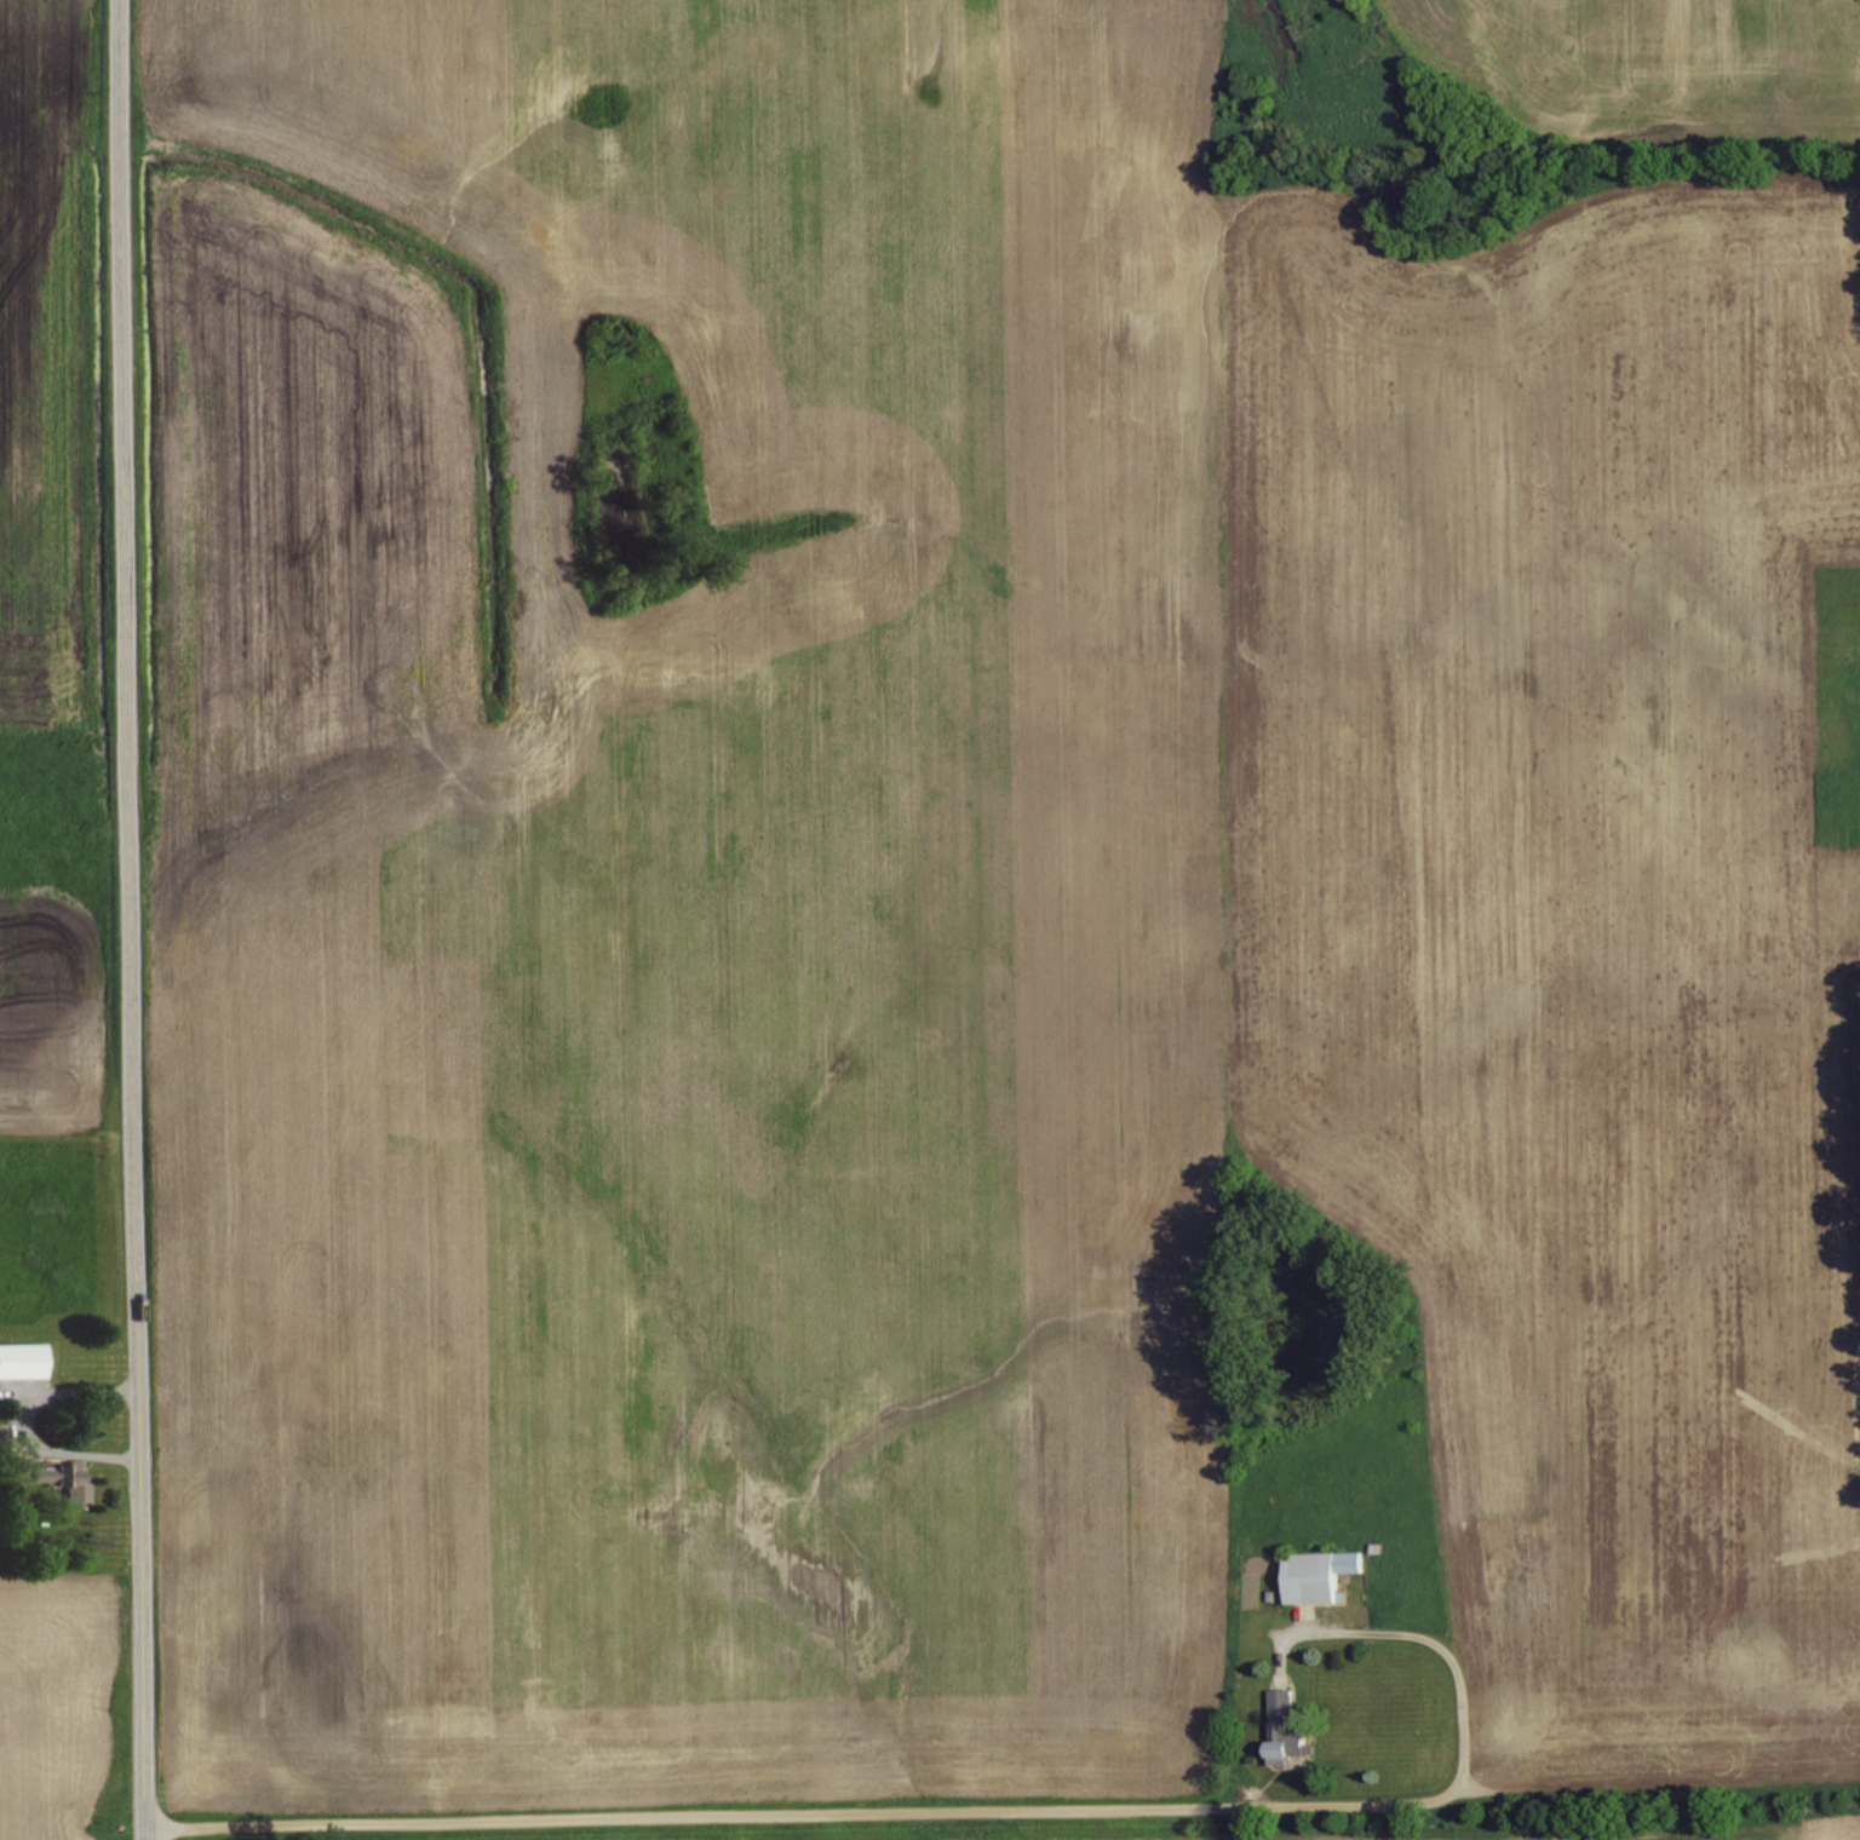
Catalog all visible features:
road: (128, 920)
building: (17, 1359)
building: (1314, 1575)
building: (1281, 1726)
road: (1003, 1822)

